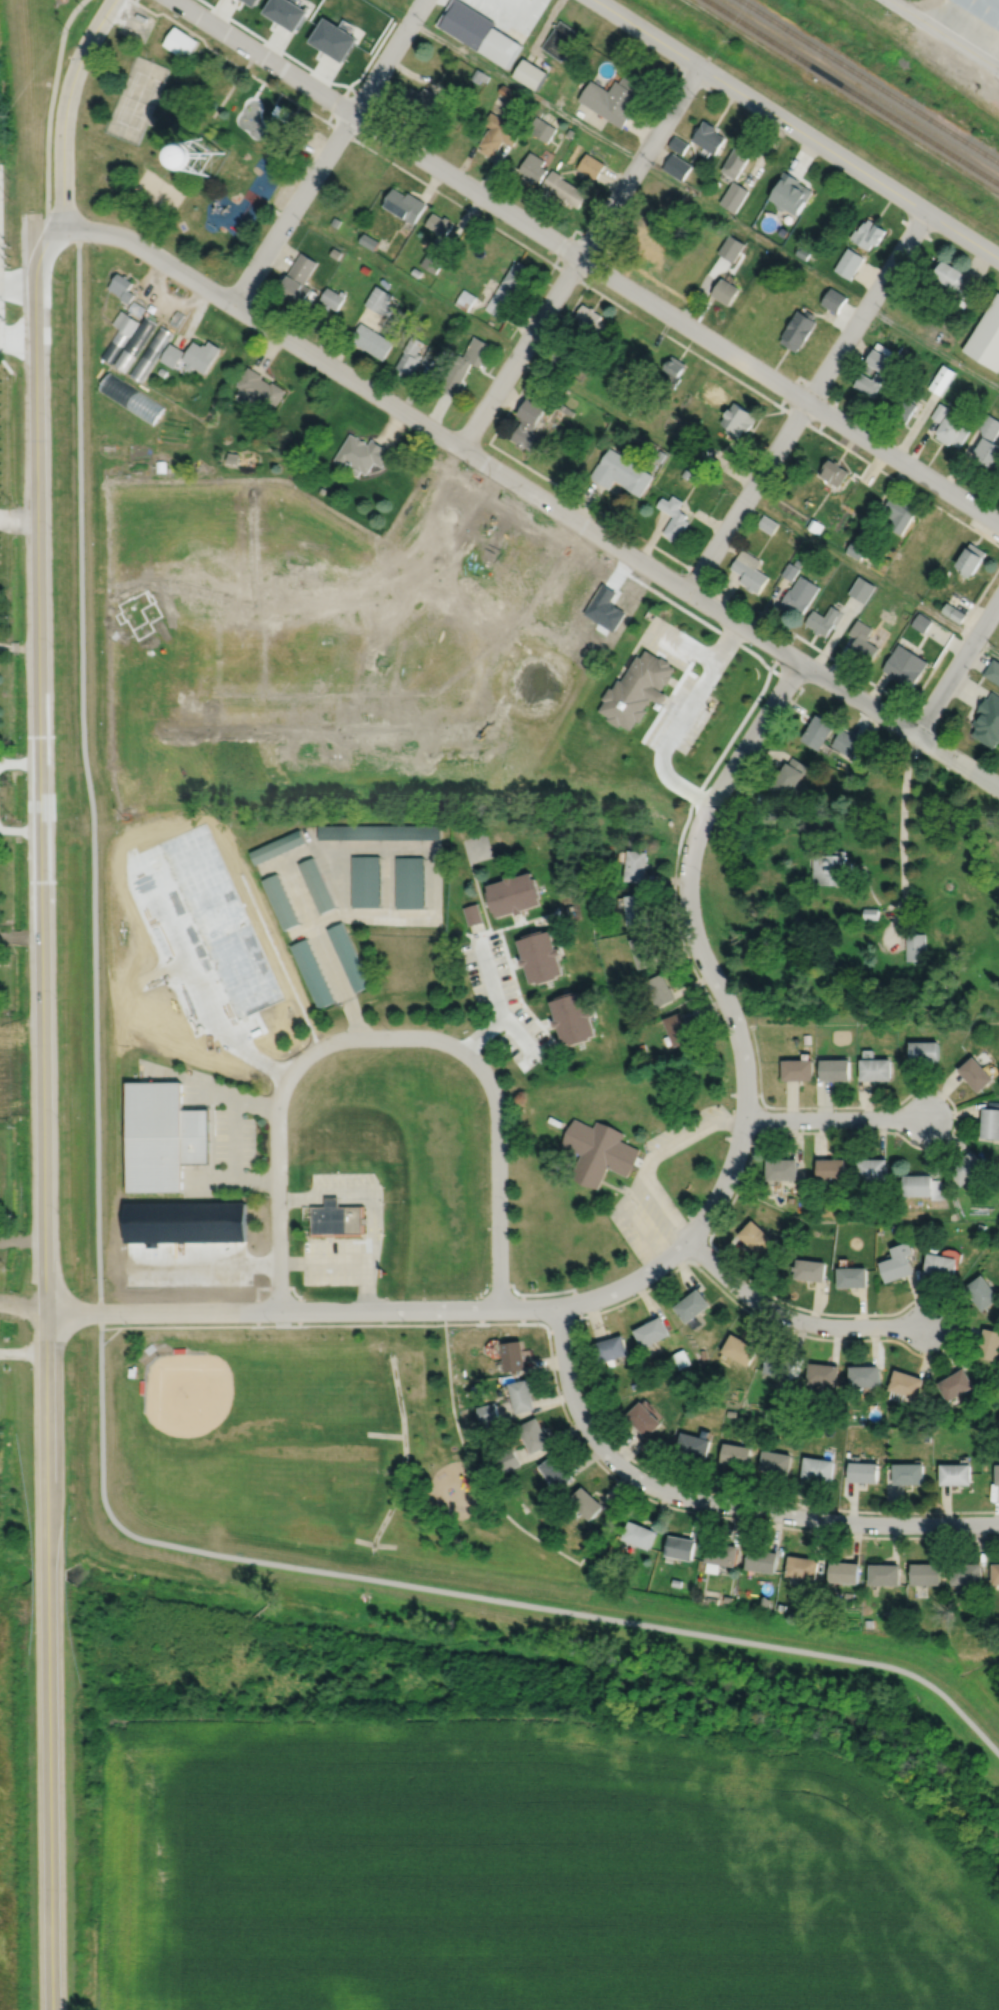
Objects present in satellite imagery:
road: (133, 0)
building: (250, 2)
building: (504, 4)
building: (982, 10)
building: (285, 13)
road: (504, 21)
building: (478, 33)
road: (944, 34)
building: (333, 40)
building: (179, 42)
building: (561, 42)
road: (231, 61)
railway: (898, 62)
road: (307, 67)
building: (529, 75)
building: (479, 76)
railway: (869, 81)
road: (230, 87)
building: (547, 91)
railway: (852, 91)
building: (507, 92)
road: (275, 98)
building: (614, 98)
park: (136, 99)
road: (369, 100)
building: (419, 100)
road: (49, 101)
road: (64, 109)
building: (279, 111)
road: (294, 112)
road: (329, 117)
road: (574, 120)
road: (796, 129)
building: (541, 130)
building: (569, 133)
building: (498, 135)
building: (707, 138)
park: (188, 139)
building: (677, 145)
road: (327, 152)
water tower: (203, 155)
building: (230, 157)
building: (736, 162)
building: (590, 167)
building: (532, 168)
building: (676, 168)
building: (564, 189)
park: (159, 190)
building: (660, 190)
building: (790, 195)
building: (734, 198)
building: (404, 204)
building: (334, 221)
building: (438, 224)
road: (496, 229)
road: (574, 230)
building: (869, 233)
building: (647, 236)
building: (368, 241)
building: (733, 245)
building: (802, 252)
building: (335, 253)
road: (579, 257)
building: (432, 260)
road: (585, 261)
building: (849, 262)
parking lot: (0, 269)
building: (365, 269)
building: (416, 271)
building: (948, 271)
building: (797, 272)
building: (515, 277)
building: (296, 279)
building: (120, 287)
building: (968, 289)
building: (724, 290)
building: (496, 296)
building: (331, 298)
building: (464, 299)
building: (477, 299)
building: (834, 299)
building: (379, 300)
building: (961, 303)
building: (135, 308)
building: (502, 308)
building: (176, 318)
building: (590, 318)
building: (124, 322)
building: (798, 328)
building: (986, 337)
road: (17, 338)
building: (371, 340)
building: (134, 343)
building: (113, 345)
road: (934, 345)
building: (149, 353)
building: (171, 355)
building: (199, 355)
building: (409, 356)
building: (430, 356)
building: (556, 359)
building: (879, 361)
building: (588, 362)
building: (464, 364)
building: (566, 364)
building: (675, 364)
building: (161, 372)
building: (941, 379)
building: (869, 382)
building: (258, 389)
building: (130, 397)
road: (805, 400)
building: (628, 402)
building: (903, 405)
building: (533, 409)
building: (566, 409)
building: (939, 411)
building: (737, 419)
building: (990, 426)
building: (952, 430)
road: (644, 431)
building: (526, 433)
road: (491, 436)
building: (987, 452)
building: (705, 453)
building: (361, 454)
building: (660, 455)
building: (231, 458)
building: (159, 466)
building: (622, 471)
building: (686, 472)
building: (833, 472)
building: (693, 476)
road: (533, 492)
building: (899, 514)
building: (674, 516)
road: (18, 520)
building: (767, 524)
building: (815, 526)
building: (856, 549)
building: (972, 559)
building: (798, 563)
building: (749, 571)
building: (790, 571)
building: (861, 589)
building: (799, 595)
road: (376, 596)
building: (954, 612)
building: (823, 620)
building: (921, 622)
building: (880, 634)
parking lot: (671, 640)
building: (862, 641)
road: (686, 643)
road: (4, 646)
road: (13, 647)
road: (27, 647)
building: (905, 665)
road: (957, 666)
building: (993, 671)
building: (638, 690)
parking lot: (682, 715)
road: (680, 720)
building: (988, 721)
road: (772, 732)
building: (818, 733)
building: (845, 743)
road: (86, 761)
building: (788, 781)
road: (698, 788)
building: (379, 832)
road: (902, 837)
building: (277, 846)
park: (476, 847)
road: (273, 864)
building: (638, 865)
building: (832, 868)
building: (366, 879)
road: (337, 880)
road: (388, 880)
building: (409, 881)
building: (595, 881)
building: (316, 884)
road: (434, 892)
building: (514, 892)
road: (479, 894)
building: (281, 900)
building: (638, 906)
building: (473, 912)
building: (871, 912)
road: (518, 921)
road: (303, 929)
building: (915, 946)
building: (646, 949)
building: (541, 954)
building: (349, 955)
building: (313, 971)
road: (490, 977)
building: (662, 988)
road: (517, 990)
parking lot: (503, 1000)
road: (205, 1003)
road: (502, 1015)
building: (574, 1016)
building: (859, 1016)
building: (889, 1017)
building: (678, 1027)
road: (386, 1037)
building: (806, 1038)
building: (925, 1049)
building: (797, 1068)
building: (835, 1068)
building: (876, 1068)
building: (976, 1072)
road: (209, 1084)
building: (993, 1103)
building: (164, 1110)
road: (44, 1118)
road: (834, 1118)
road: (955, 1118)
building: (556, 1120)
building: (991, 1122)
parking lot: (234, 1137)
road: (234, 1137)
building: (600, 1150)
road: (649, 1159)
building: (165, 1160)
building: (968, 1167)
building: (782, 1168)
building: (831, 1168)
building: (872, 1168)
road: (232, 1180)
building: (918, 1184)
parking lot: (659, 1185)
building: (938, 1190)
building: (799, 1196)
road: (376, 1200)
building: (338, 1218)
parking lot: (375, 1219)
building: (908, 1226)
building: (981, 1227)
building: (785, 1233)
building: (756, 1237)
road: (677, 1249)
road: (324, 1261)
building: (898, 1262)
building: (940, 1264)
road: (219, 1265)
building: (810, 1269)
building: (852, 1277)
road: (501, 1283)
road: (277, 1287)
building: (983, 1292)
building: (691, 1305)
road: (793, 1318)
road: (272, 1325)
building: (652, 1331)
road: (955, 1334)
building: (990, 1345)
building: (180, 1350)
building: (613, 1350)
building: (739, 1350)
building: (702, 1354)
building: (515, 1356)
building: (680, 1359)
building: (779, 1367)
building: (132, 1372)
building: (823, 1375)
building: (865, 1376)
building: (710, 1381)
road: (580, 1383)
building: (957, 1385)
building: (143, 1386)
building: (633, 1386)
building: (905, 1386)
building: (478, 1390)
building: (523, 1396)
building: (786, 1406)
building: (488, 1413)
building: (729, 1413)
building: (642, 1420)
building: (985, 1429)
park: (222, 1430)
building: (535, 1436)
building: (926, 1436)
building: (988, 1442)
building: (691, 1446)
building: (734, 1455)
building: (507, 1459)
building: (775, 1462)
building: (817, 1469)
building: (558, 1471)
building: (863, 1472)
building: (909, 1474)
building: (956, 1475)
building: (998, 1475)
building: (587, 1500)
road: (717, 1502)
road: (495, 1503)
road: (666, 1505)
building: (641, 1532)
building: (678, 1547)
building: (719, 1554)
building: (761, 1559)
building: (802, 1565)
building: (844, 1570)
building: (967, 1571)
building: (996, 1571)
building: (885, 1572)
building: (926, 1572)
building: (676, 1582)
road: (473, 1594)
building: (727, 1598)
building: (711, 1599)
building: (764, 1602)
building: (780, 1606)
building: (812, 1611)
building: (868, 1622)
crop: (523, 1870)

